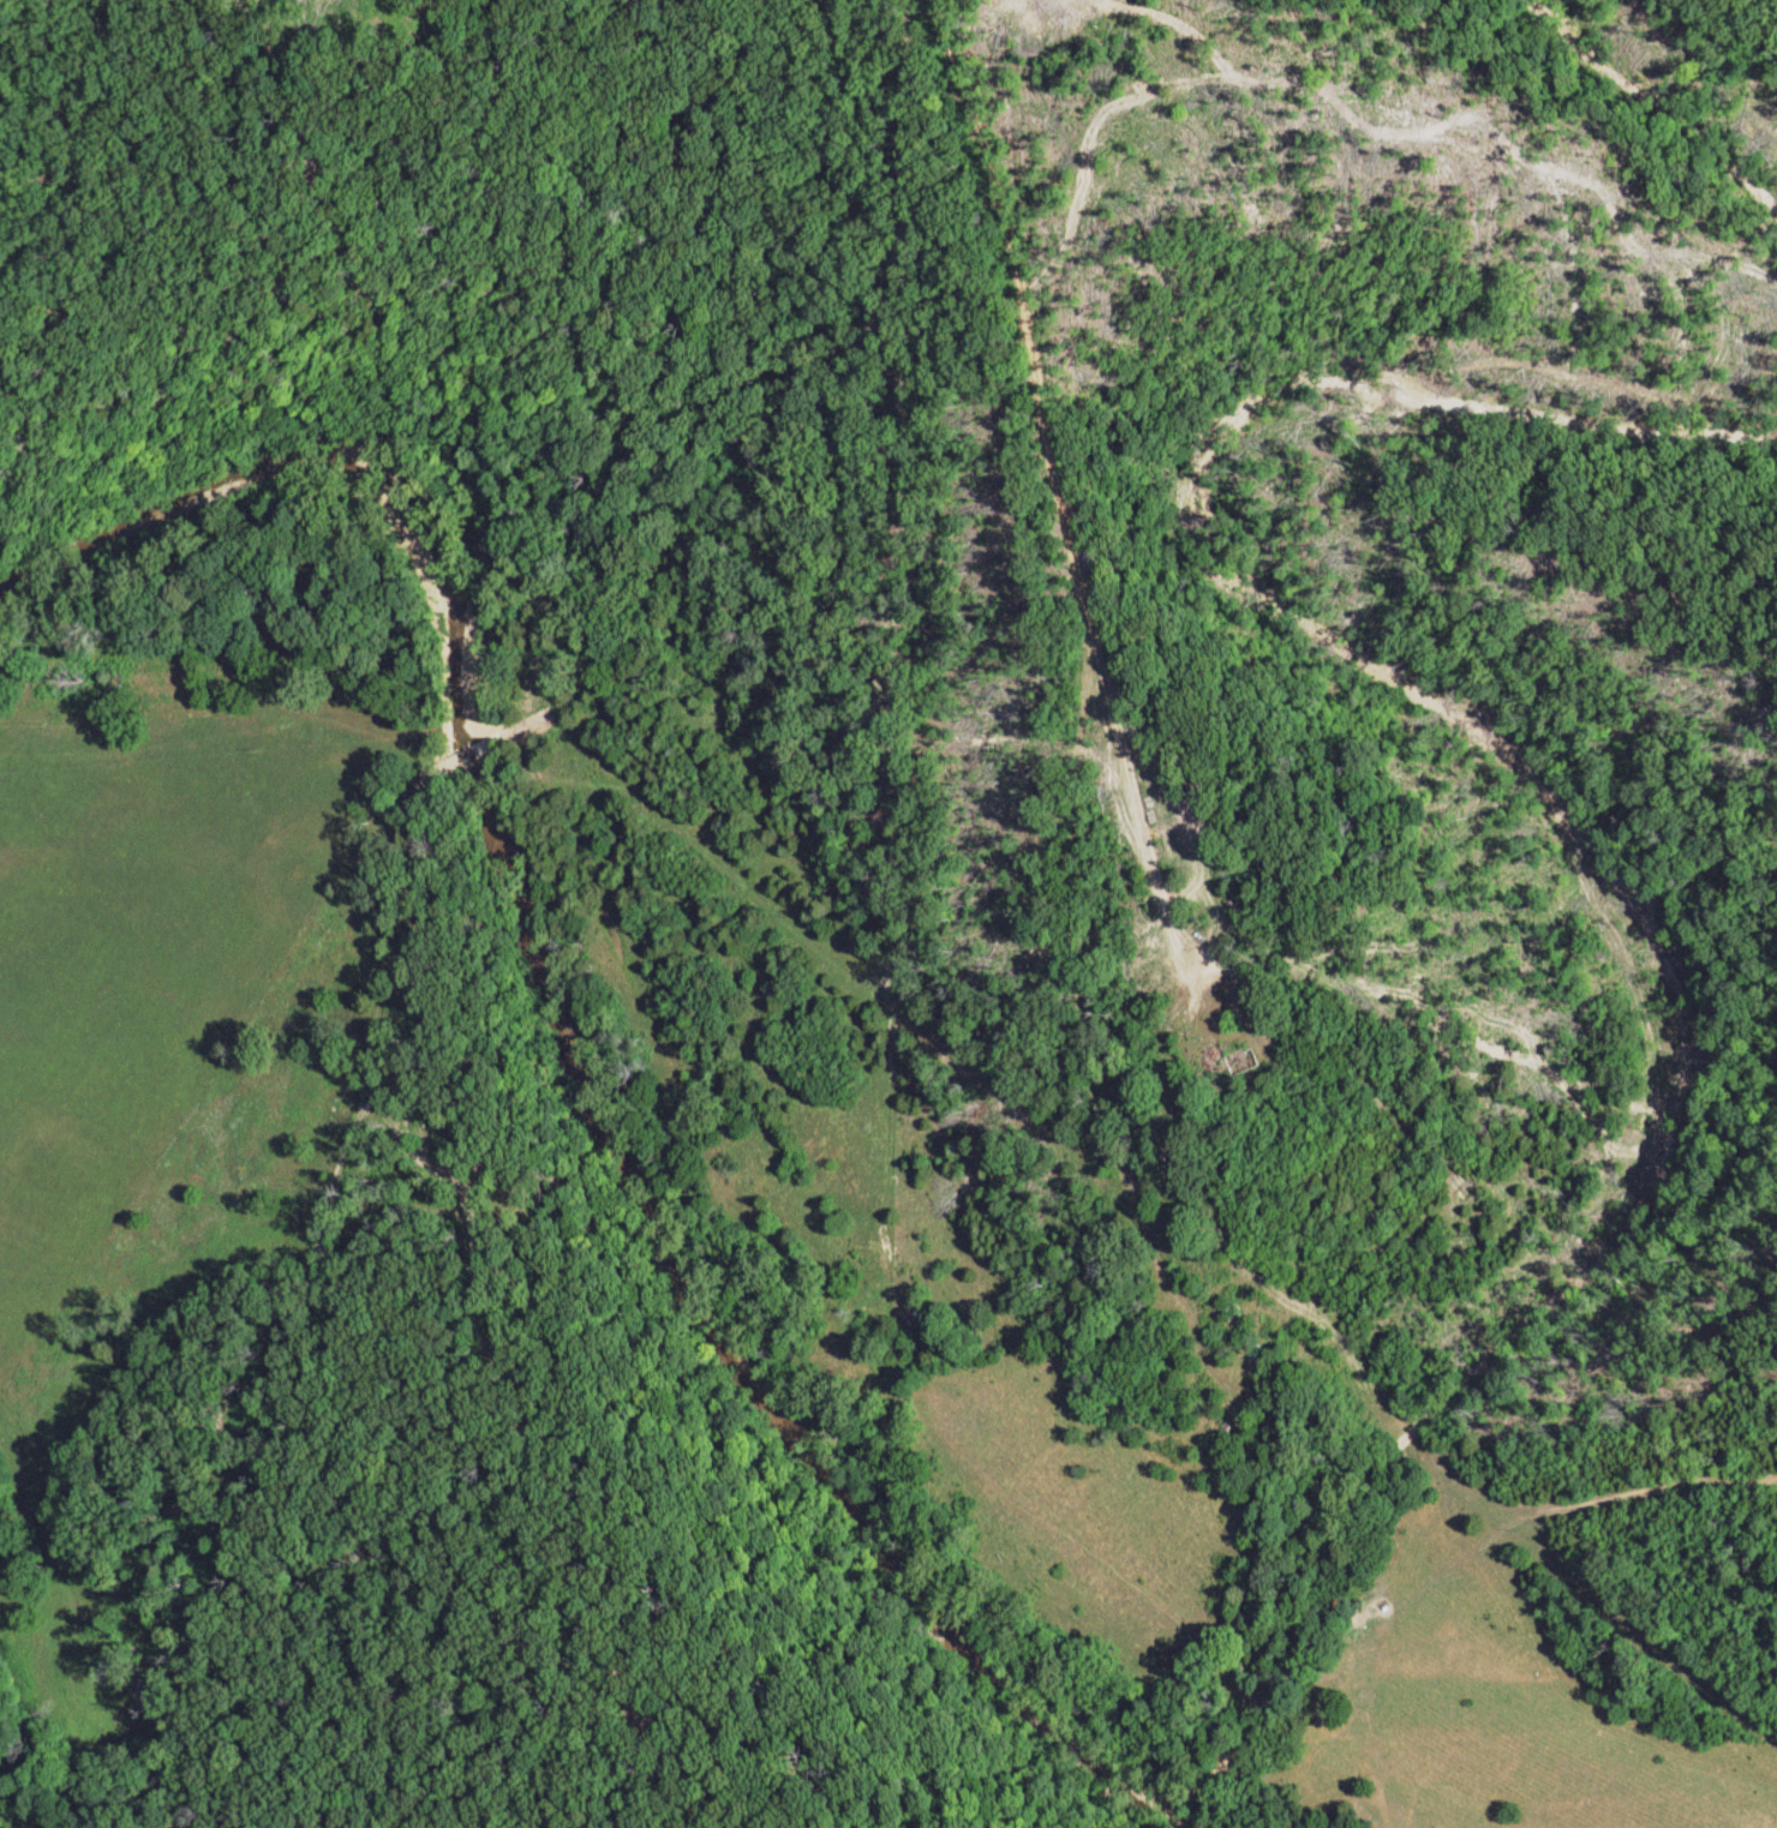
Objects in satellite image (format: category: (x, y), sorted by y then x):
road: (1035, 969)

